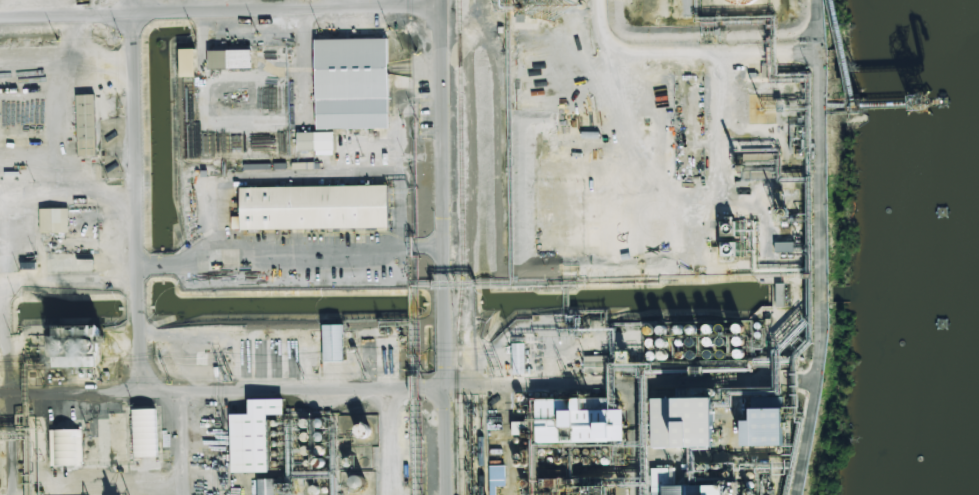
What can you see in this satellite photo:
road: (439, 25)
building: (230, 59)
building: (188, 62)
building: (352, 83)
building: (86, 125)
building: (30, 133)
building: (316, 142)
building: (313, 207)
building: (54, 220)
building: (727, 227)
building: (17, 234)
railway: (463, 247)
building: (67, 263)
road: (443, 272)
building: (333, 342)
building: (518, 358)
road: (259, 390)
building: (577, 422)
building: (682, 423)
building: (764, 428)
building: (145, 432)
building: (253, 435)
railway: (464, 443)
railway: (481, 444)
building: (66, 447)
building: (497, 478)
building: (267, 486)
building: (687, 486)

